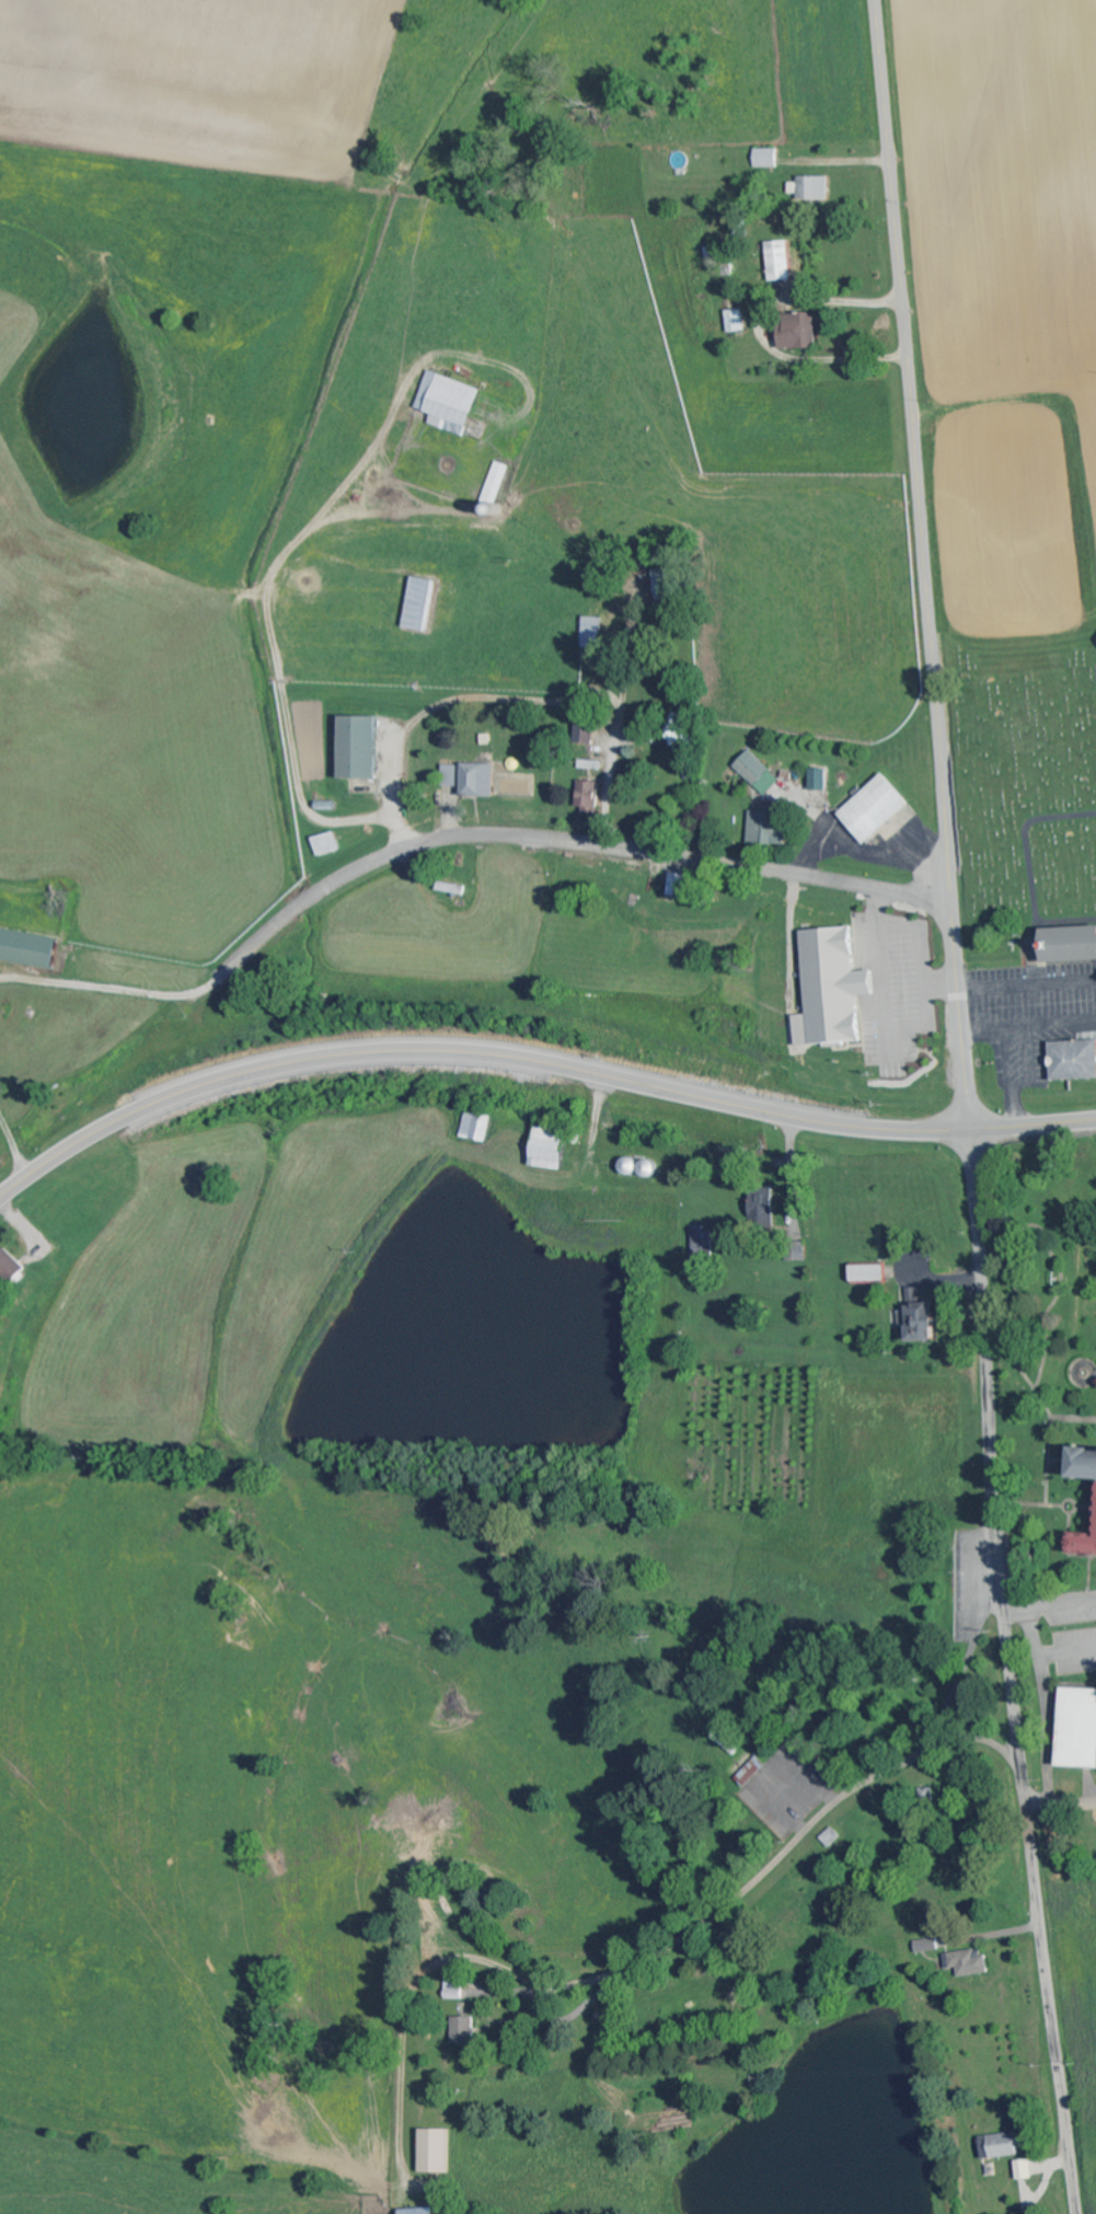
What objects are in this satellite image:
building: (768, 158)
building: (814, 188)
building: (780, 262)
building: (736, 321)
building: (799, 333)
building: (450, 403)
road: (926, 564)
building: (422, 603)
building: (592, 631)
building: (586, 731)
road: (351, 738)
building: (358, 747)
building: (760, 772)
park: (1025, 775)
building: (472, 779)
building: (820, 780)
building: (589, 796)
building: (876, 808)
building: (766, 829)
road: (577, 840)
building: (326, 843)
building: (681, 885)
building: (1069, 944)
building: (28, 948)
building: (833, 988)
building: (1073, 1060)
road: (533, 1066)
building: (477, 1127)
building: (550, 1148)
building: (764, 1209)
building: (703, 1241)
building: (798, 1250)
building: (11, 1264)
building: (868, 1273)
building: (921, 1323)
building: (1083, 1464)
building: (1083, 1546)
road: (1063, 1606)
road: (1008, 1673)
road: (1046, 1709)
building: (1077, 1729)
road: (980, 1736)
building: (748, 1768)
road: (1060, 1806)
road: (847, 1807)
building: (832, 1837)
building: (928, 1946)
building: (969, 1963)
road: (580, 1983)
building: (464, 2031)
building: (1001, 2146)
building: (437, 2152)
building: (1025, 2169)
building: (420, 2211)

